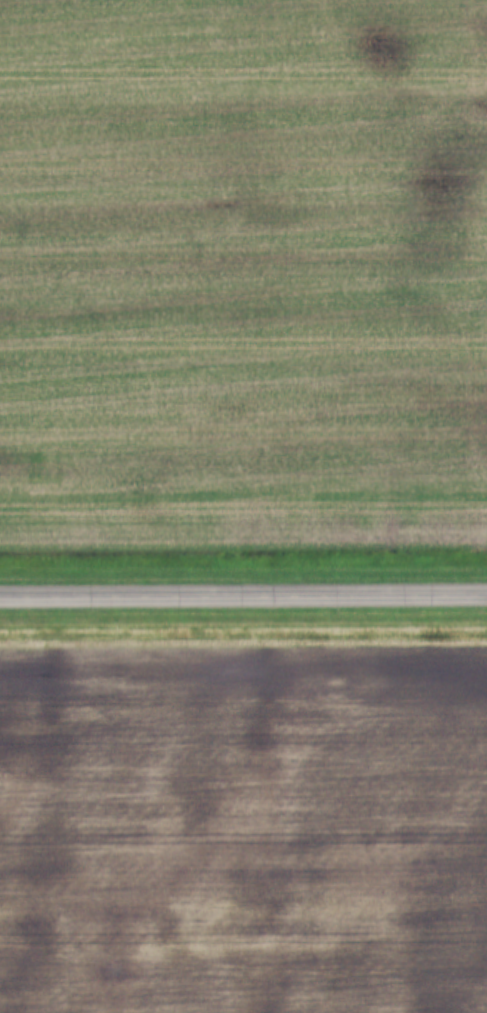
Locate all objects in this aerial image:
road: (243, 601)

